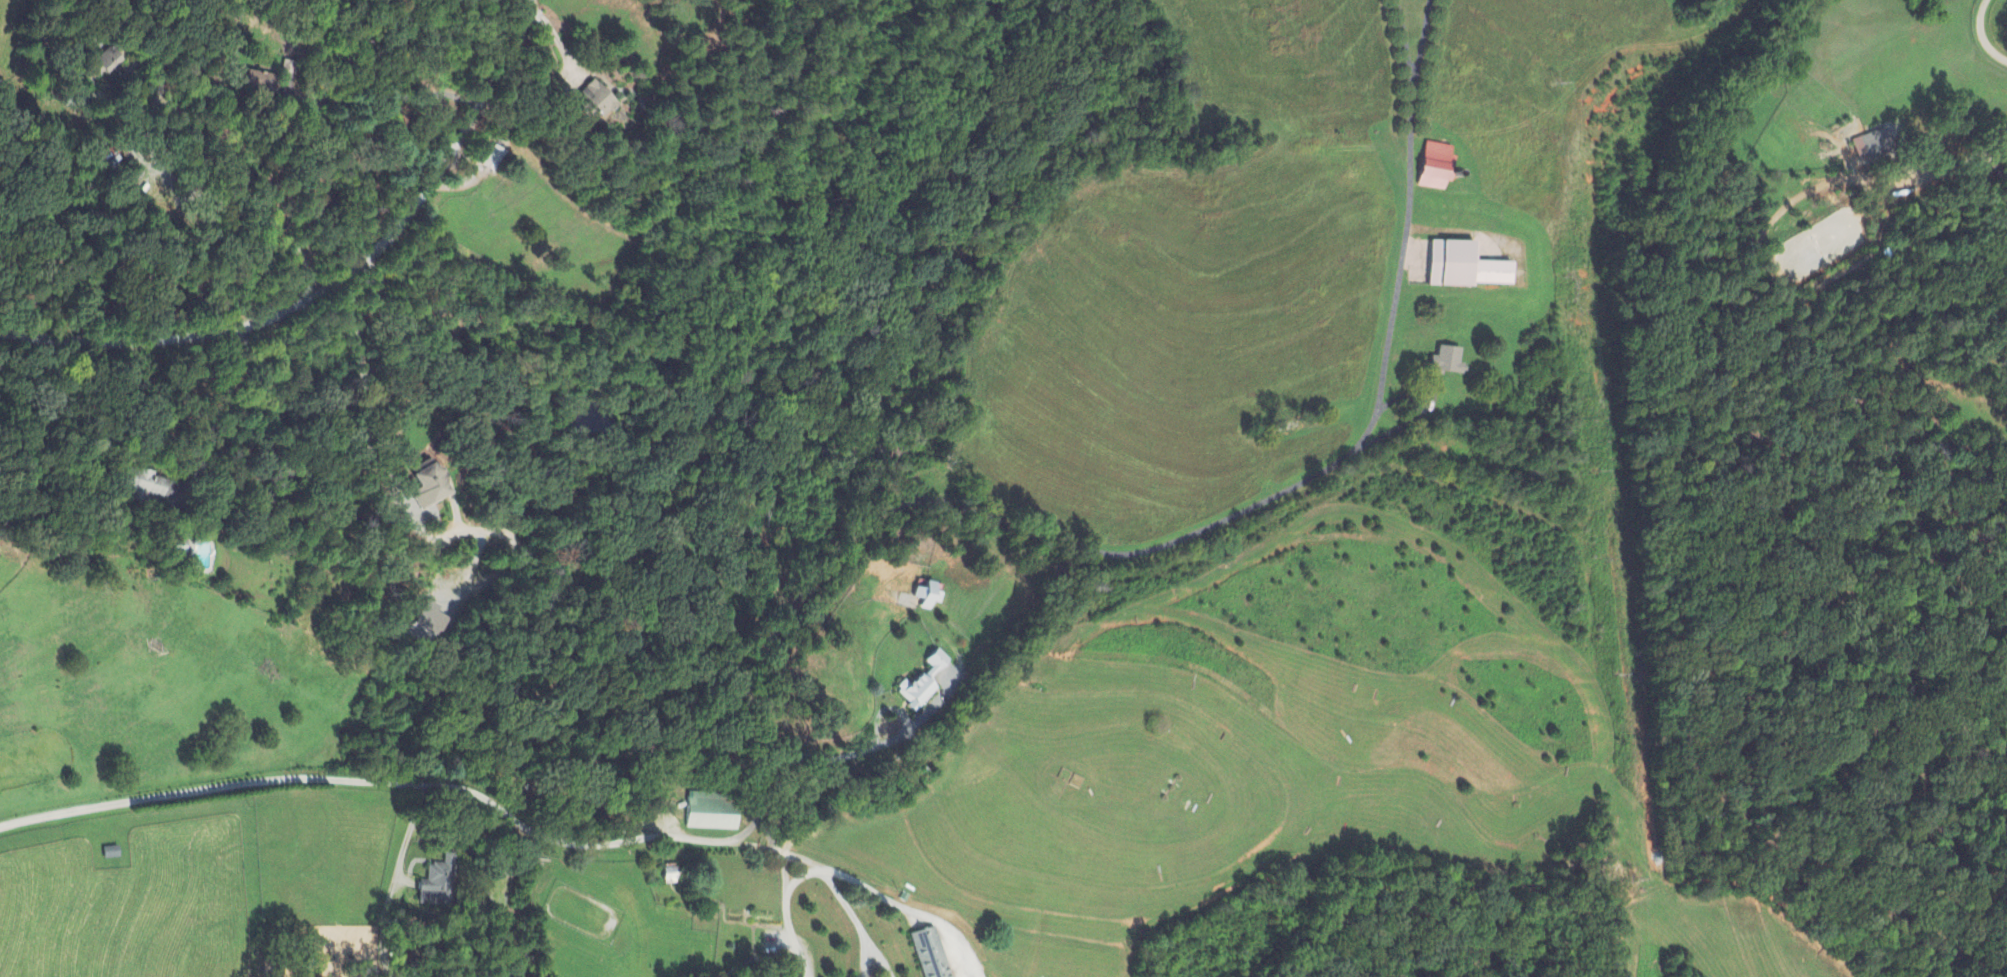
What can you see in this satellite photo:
road: (1983, 34)
road: (556, 41)
road: (1407, 46)
road: (387, 100)
road: (1991, 156)
road: (210, 195)
road: (335, 281)
road: (369, 416)
road: (34, 489)
road: (819, 577)
road: (844, 757)
road: (397, 875)
road: (800, 878)
road: (786, 894)
road: (896, 901)
road: (848, 907)

